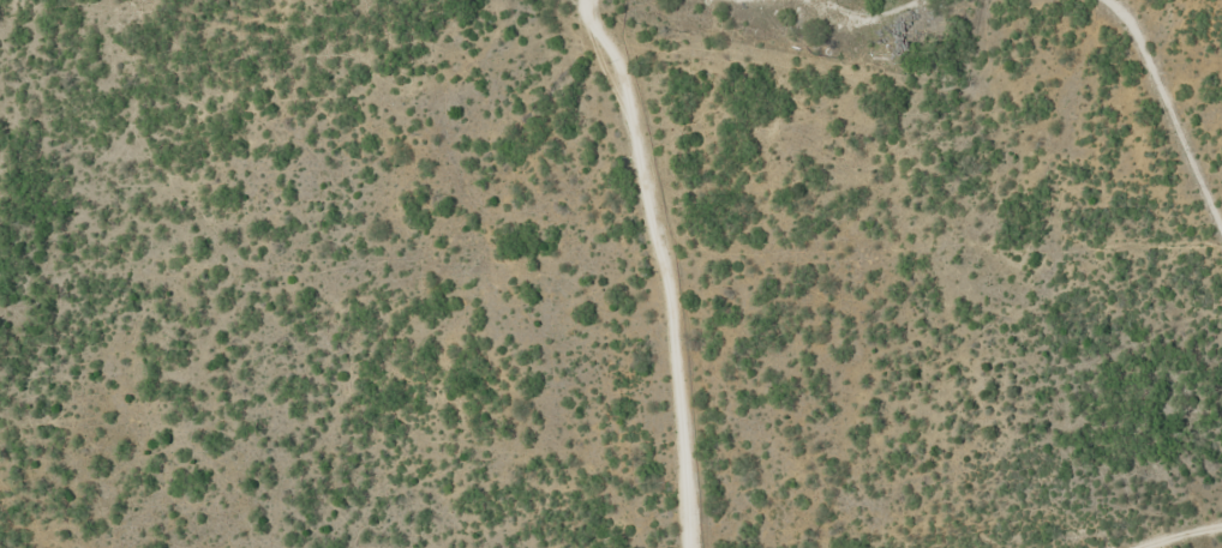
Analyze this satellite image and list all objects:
road: (912, 528)
road: (12, 543)

